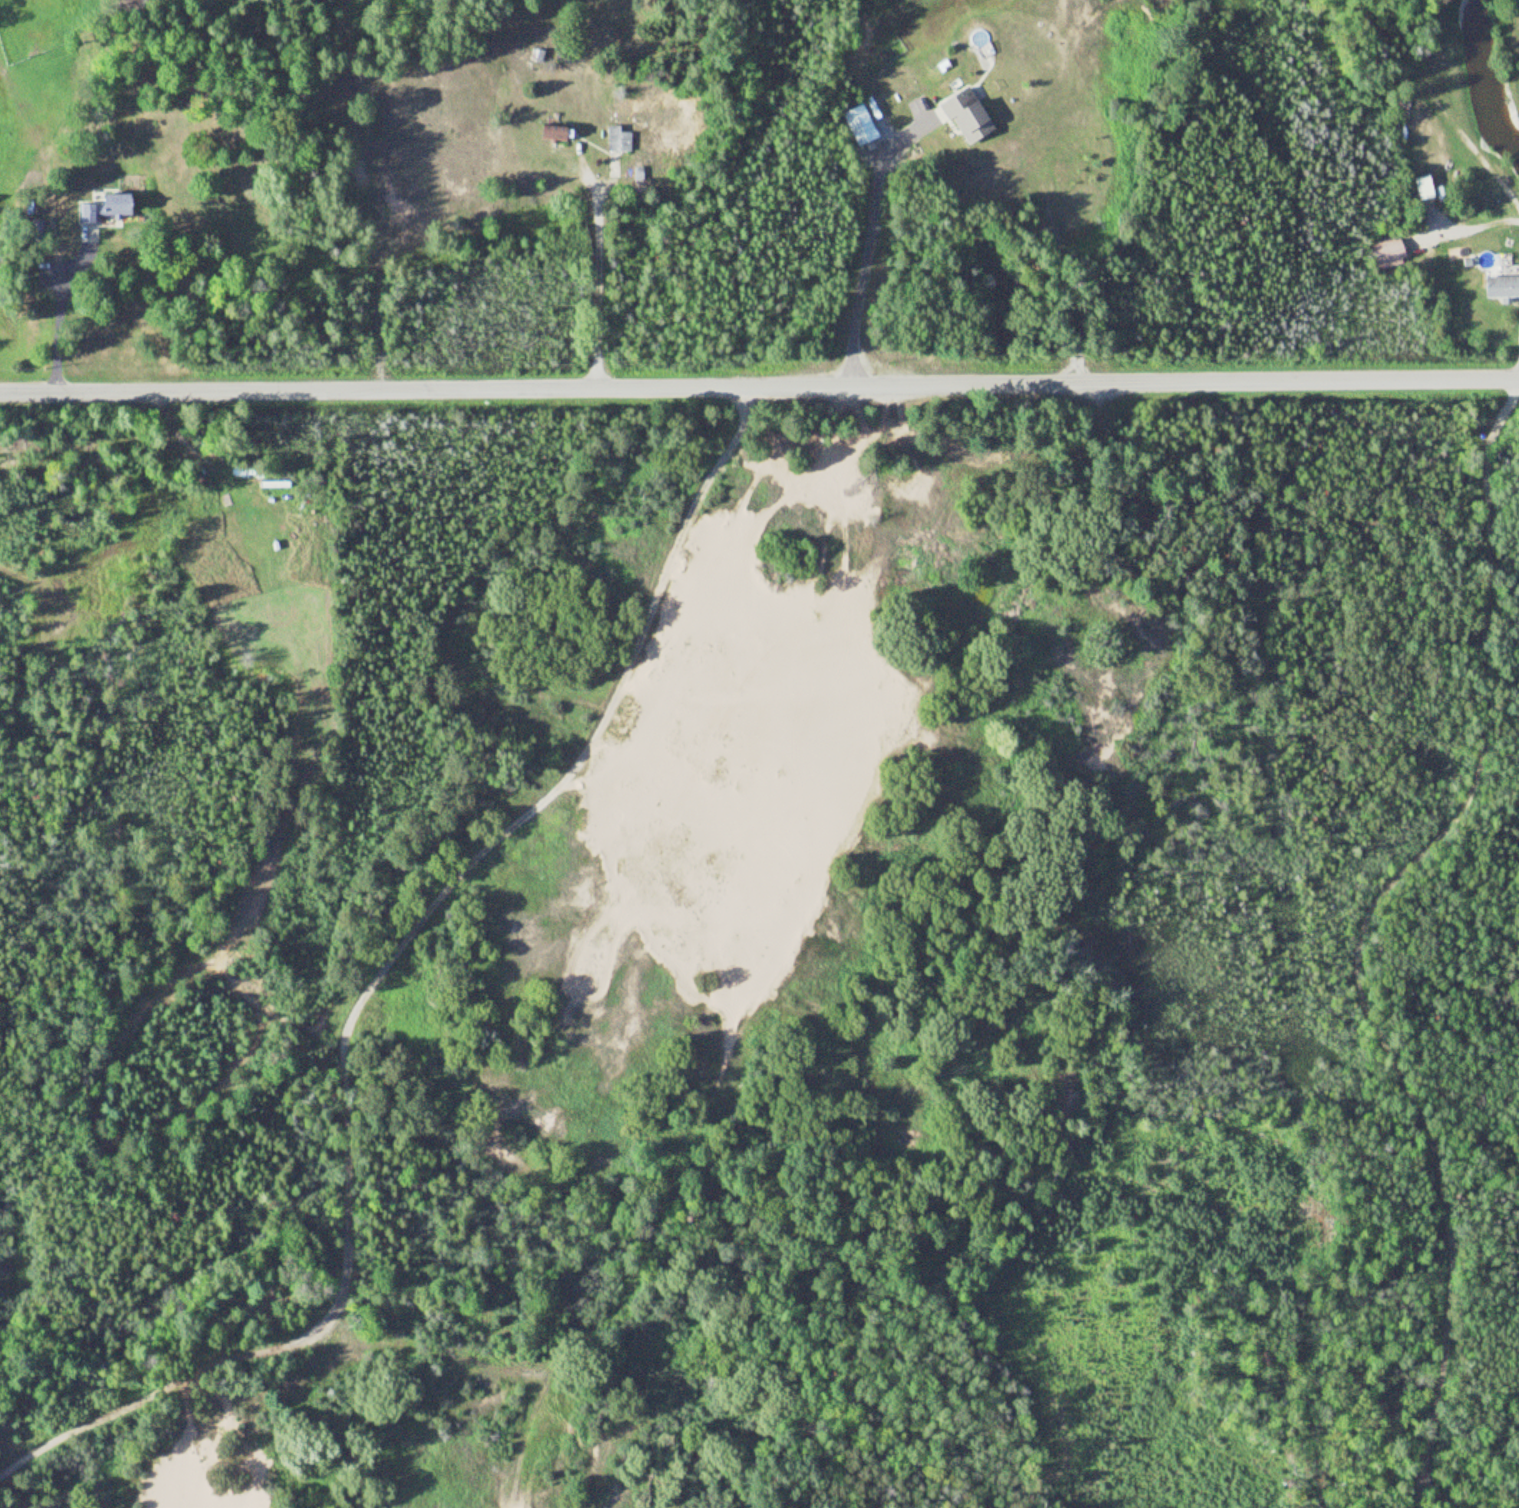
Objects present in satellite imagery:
road: (1438, 104)
building: (970, 116)
building: (861, 126)
building: (556, 134)
building: (618, 140)
building: (108, 209)
building: (1388, 253)
building: (1502, 287)
road: (759, 388)

